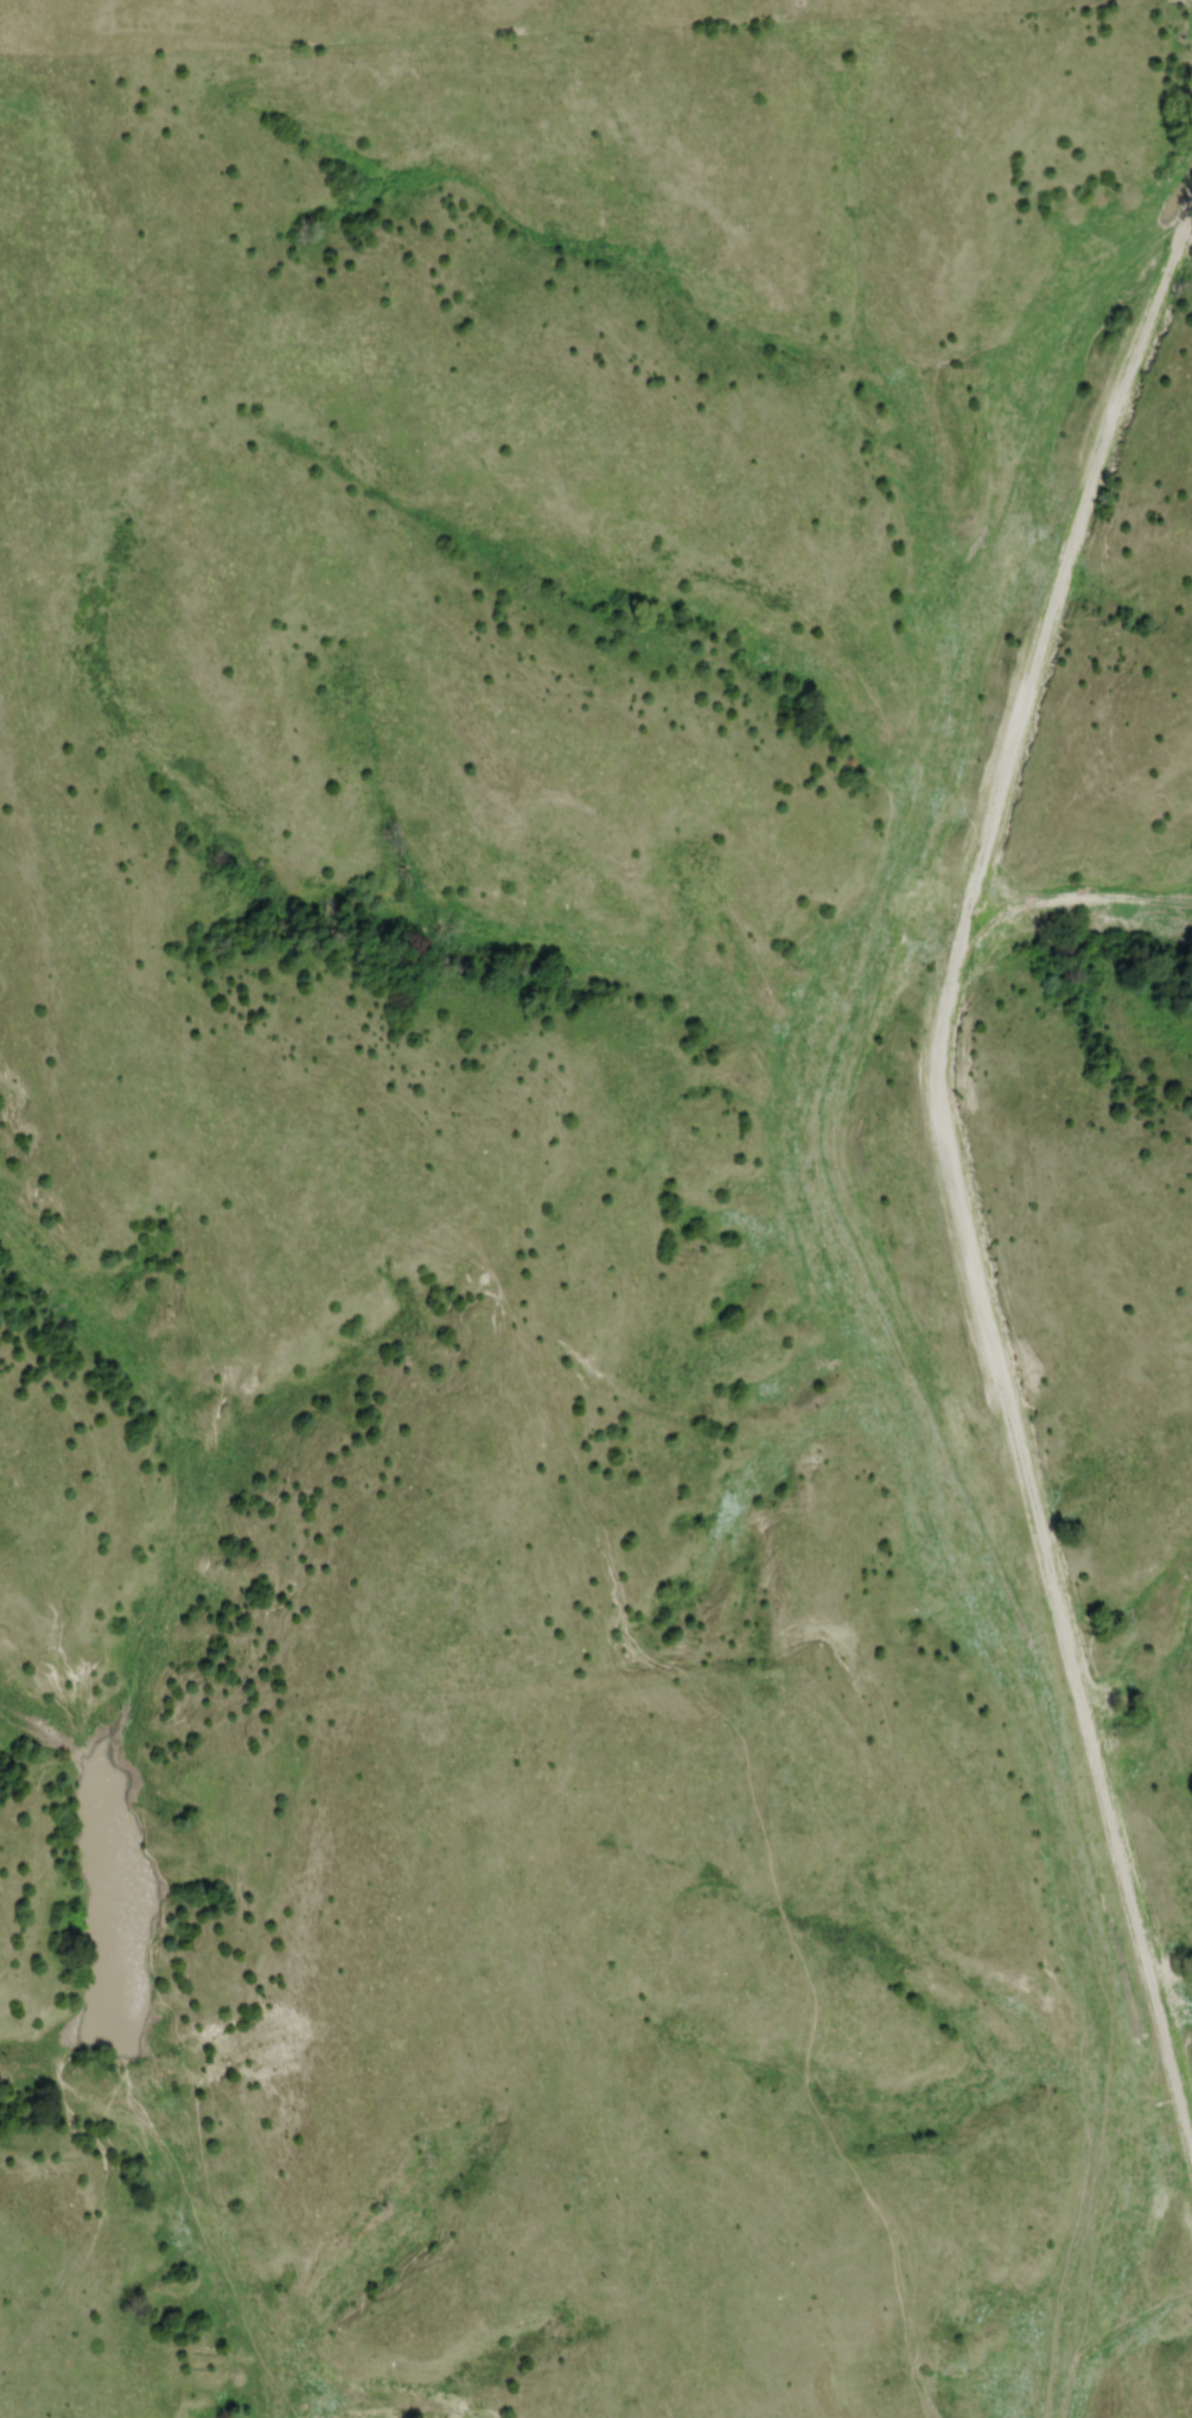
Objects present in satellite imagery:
road: (955, 1173)

